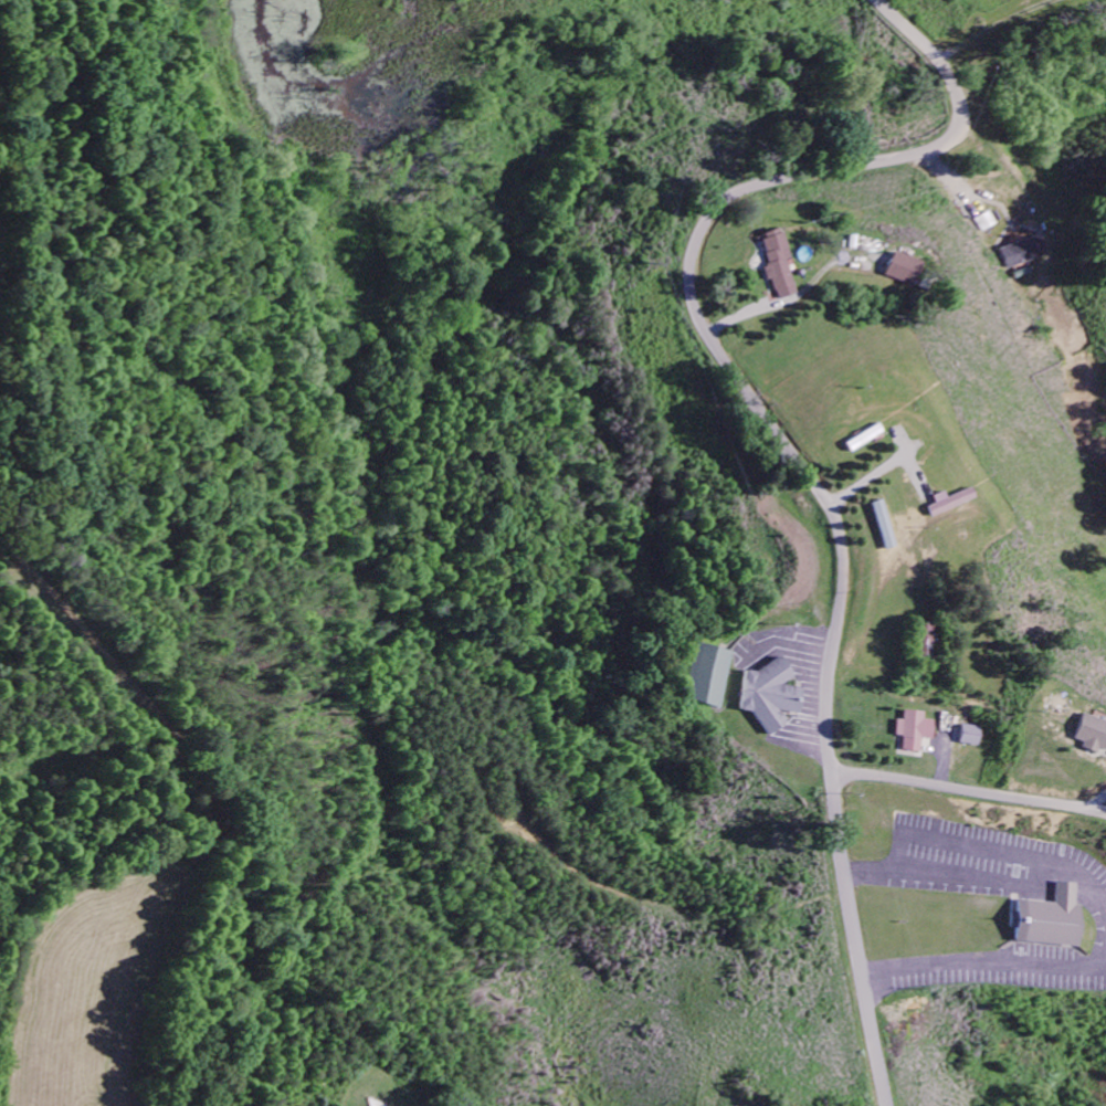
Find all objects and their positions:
building: (1029, 253)
building: (781, 266)
building: (909, 271)
road: (779, 442)
building: (955, 502)
building: (885, 526)
building: (704, 676)
building: (769, 696)
building: (914, 731)
building: (1092, 735)
building: (972, 736)
road: (145, 751)
road: (966, 790)
building: (1047, 919)

